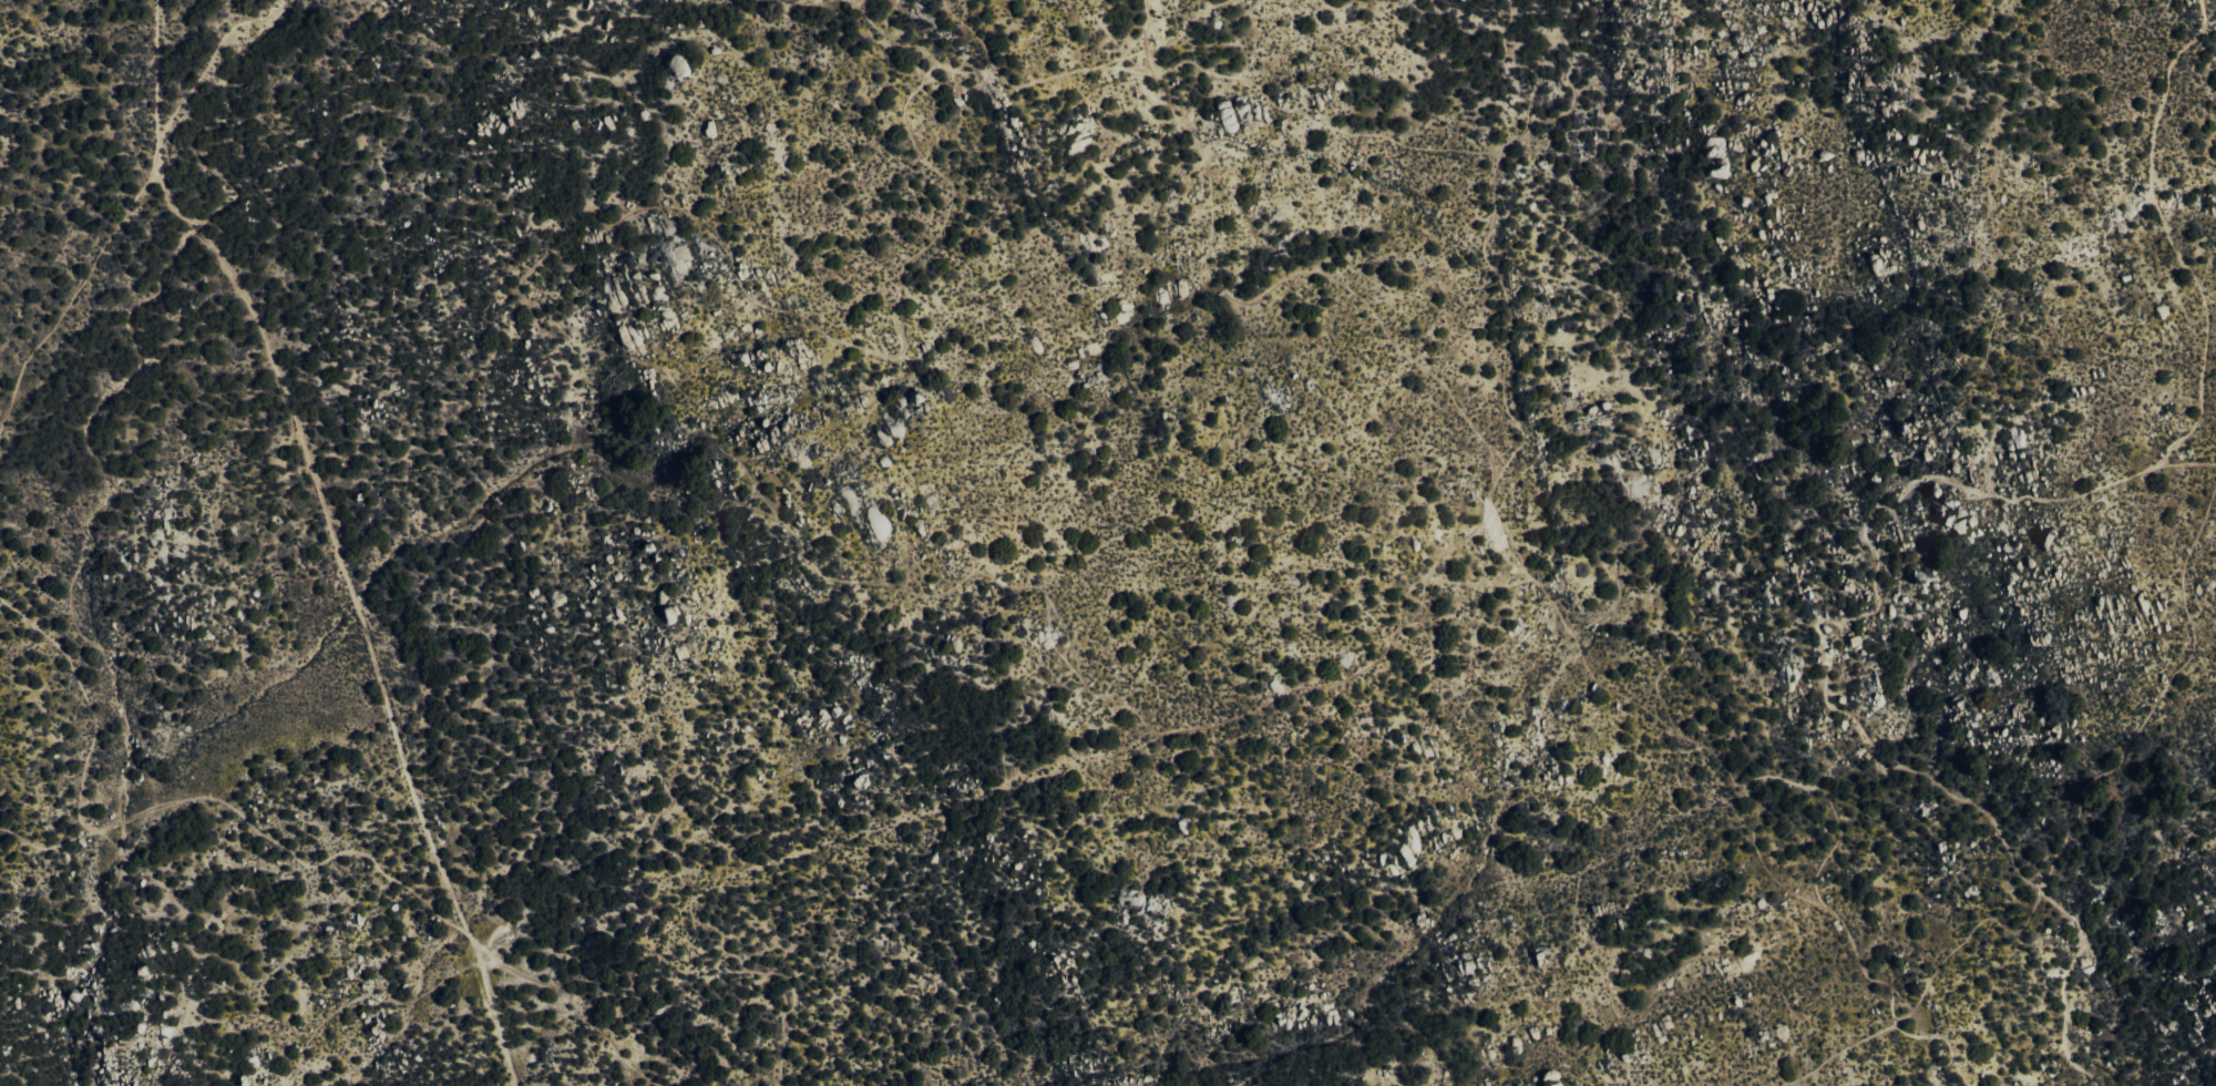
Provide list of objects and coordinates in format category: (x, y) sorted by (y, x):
road: (2094, 786)

